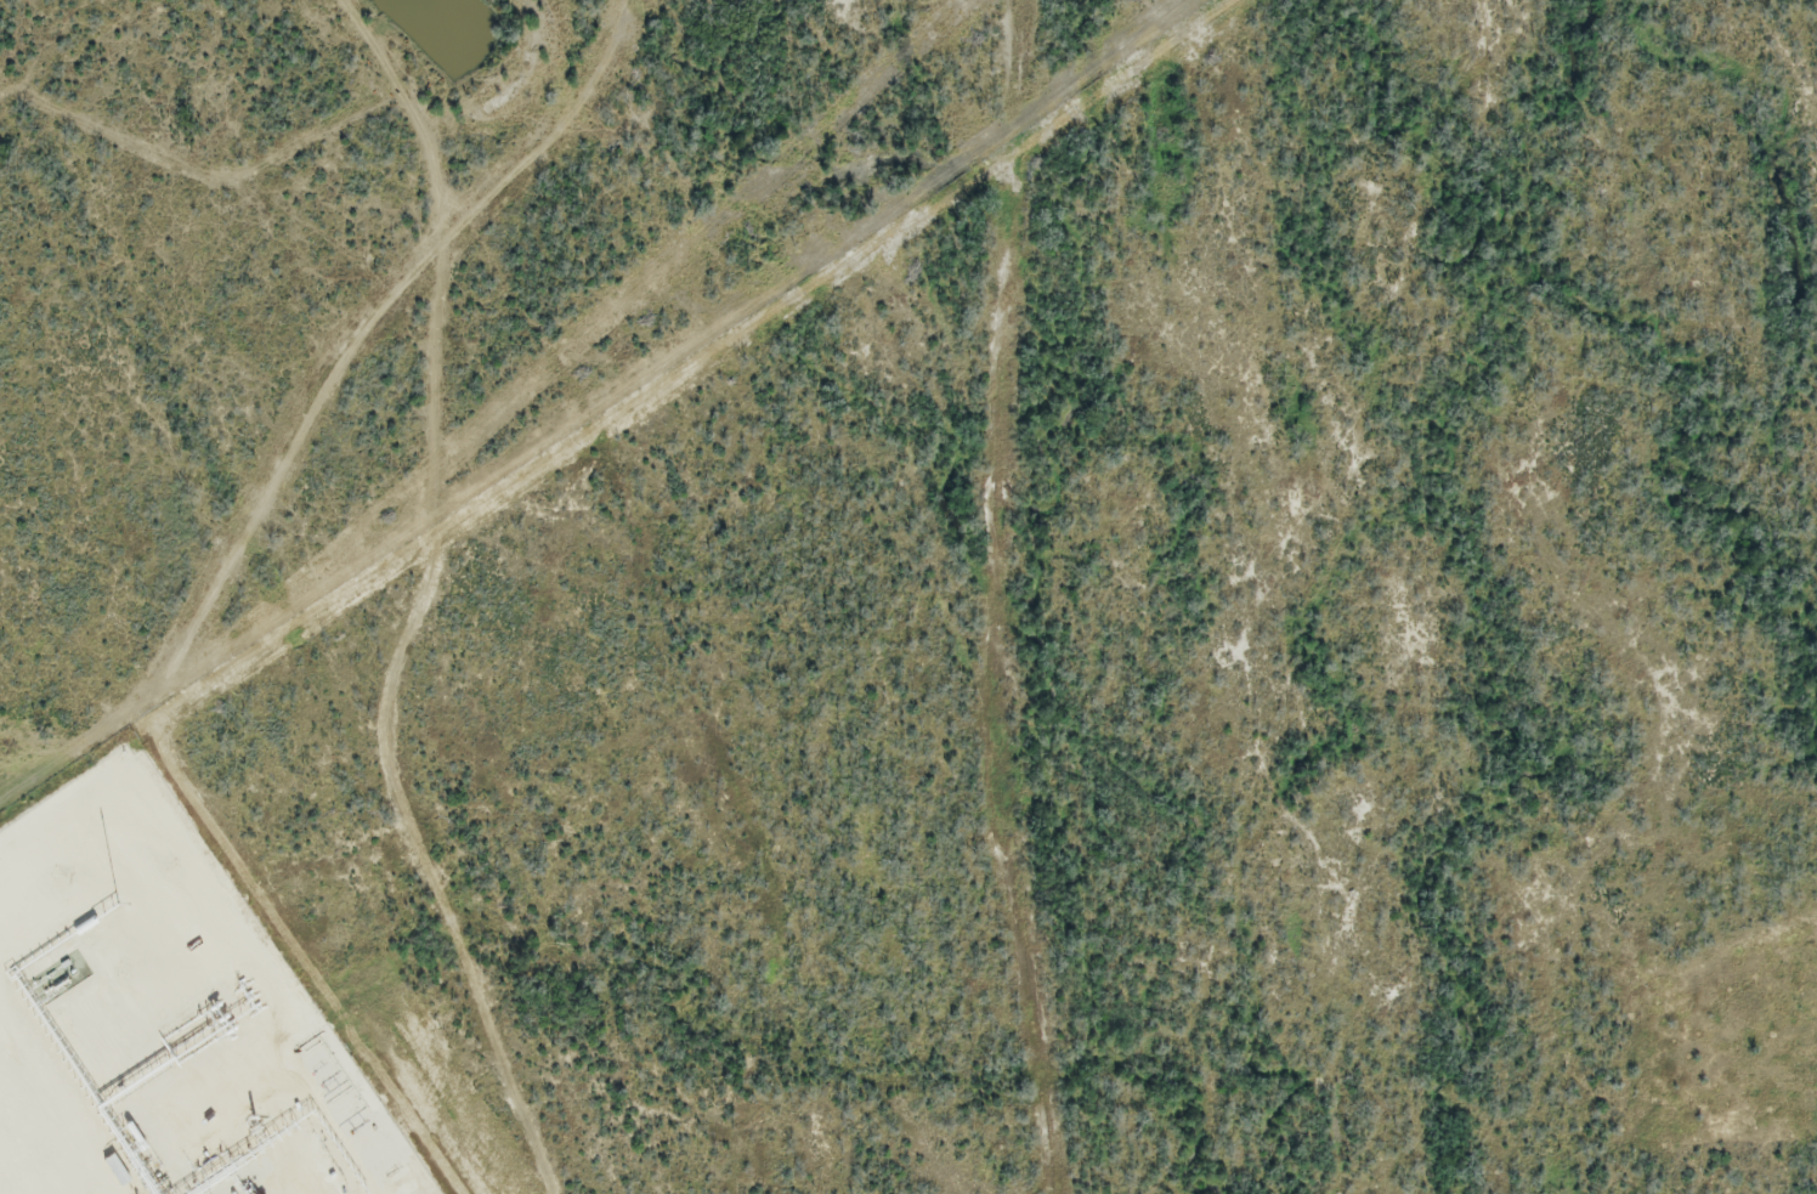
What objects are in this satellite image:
road: (291, 1189)

